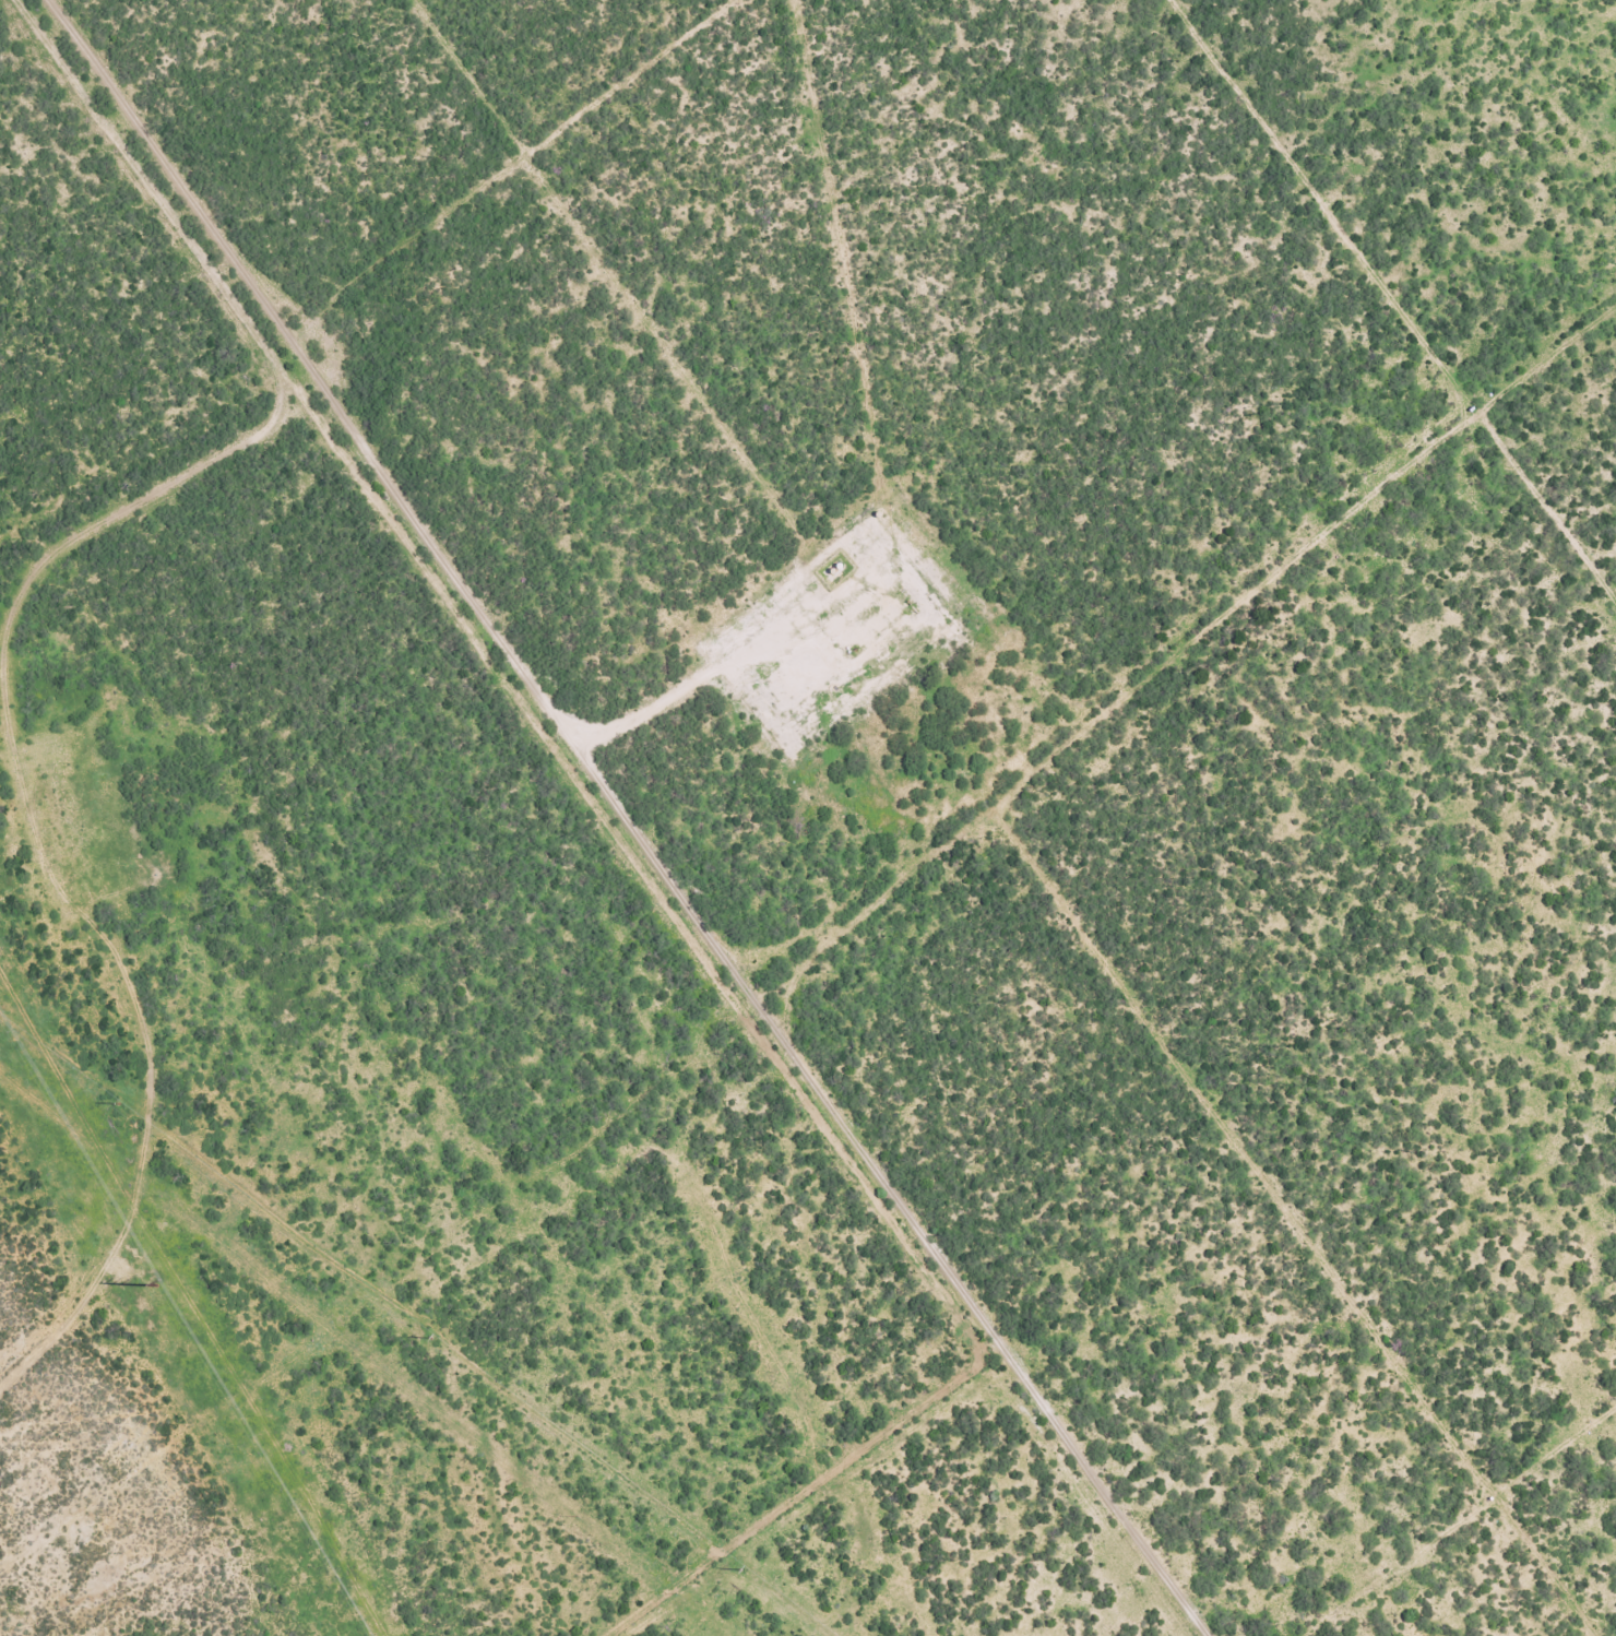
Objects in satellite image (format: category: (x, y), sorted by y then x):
road: (246, 336)
road: (115, 1071)
power tower: (116, 1101)
power tower: (155, 1287)
power tower: (428, 1336)
power tower: (737, 1569)

